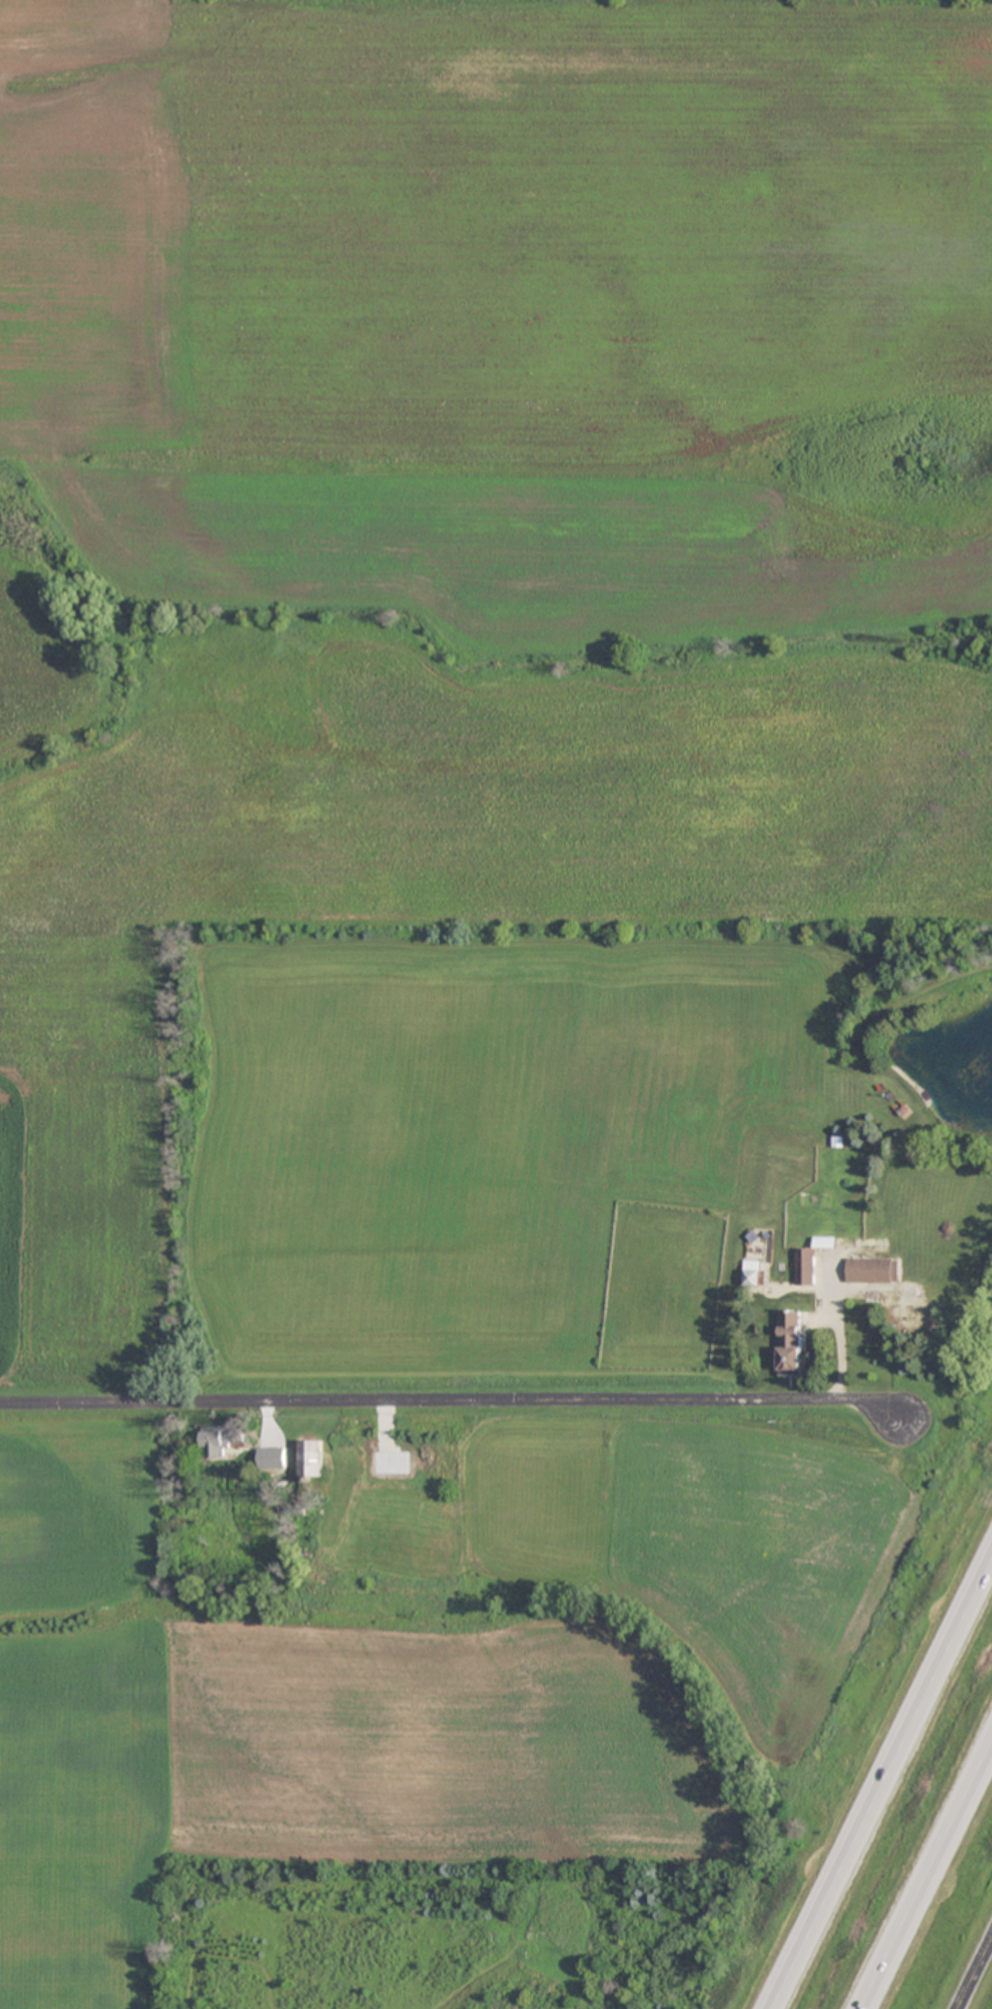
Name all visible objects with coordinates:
building: (805, 1266)
building: (873, 1270)
building: (752, 1271)
building: (793, 1341)
road: (449, 1397)
building: (221, 1438)
building: (311, 1457)
road: (881, 1782)
road: (927, 1877)
road: (975, 1974)

